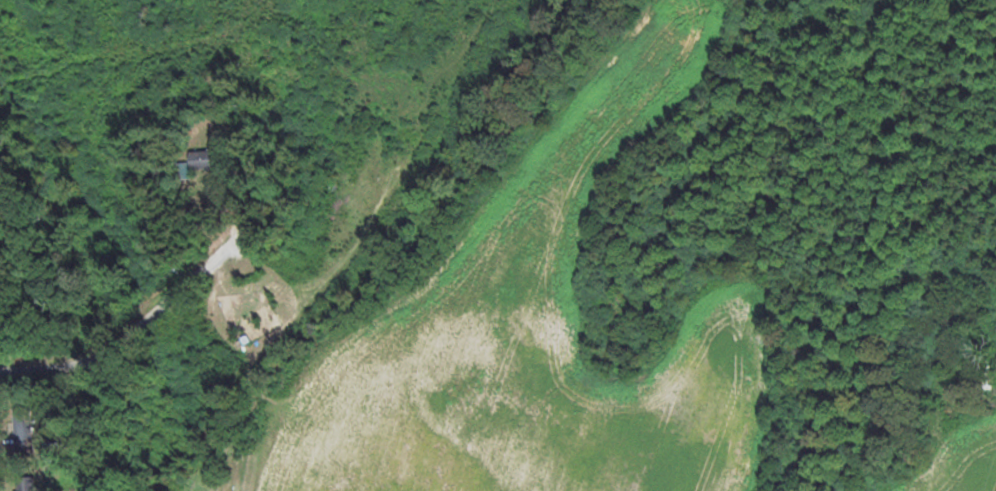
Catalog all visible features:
building: (205, 159)
road: (131, 334)
building: (22, 427)
road: (935, 439)
park: (195, 465)
building: (25, 486)

